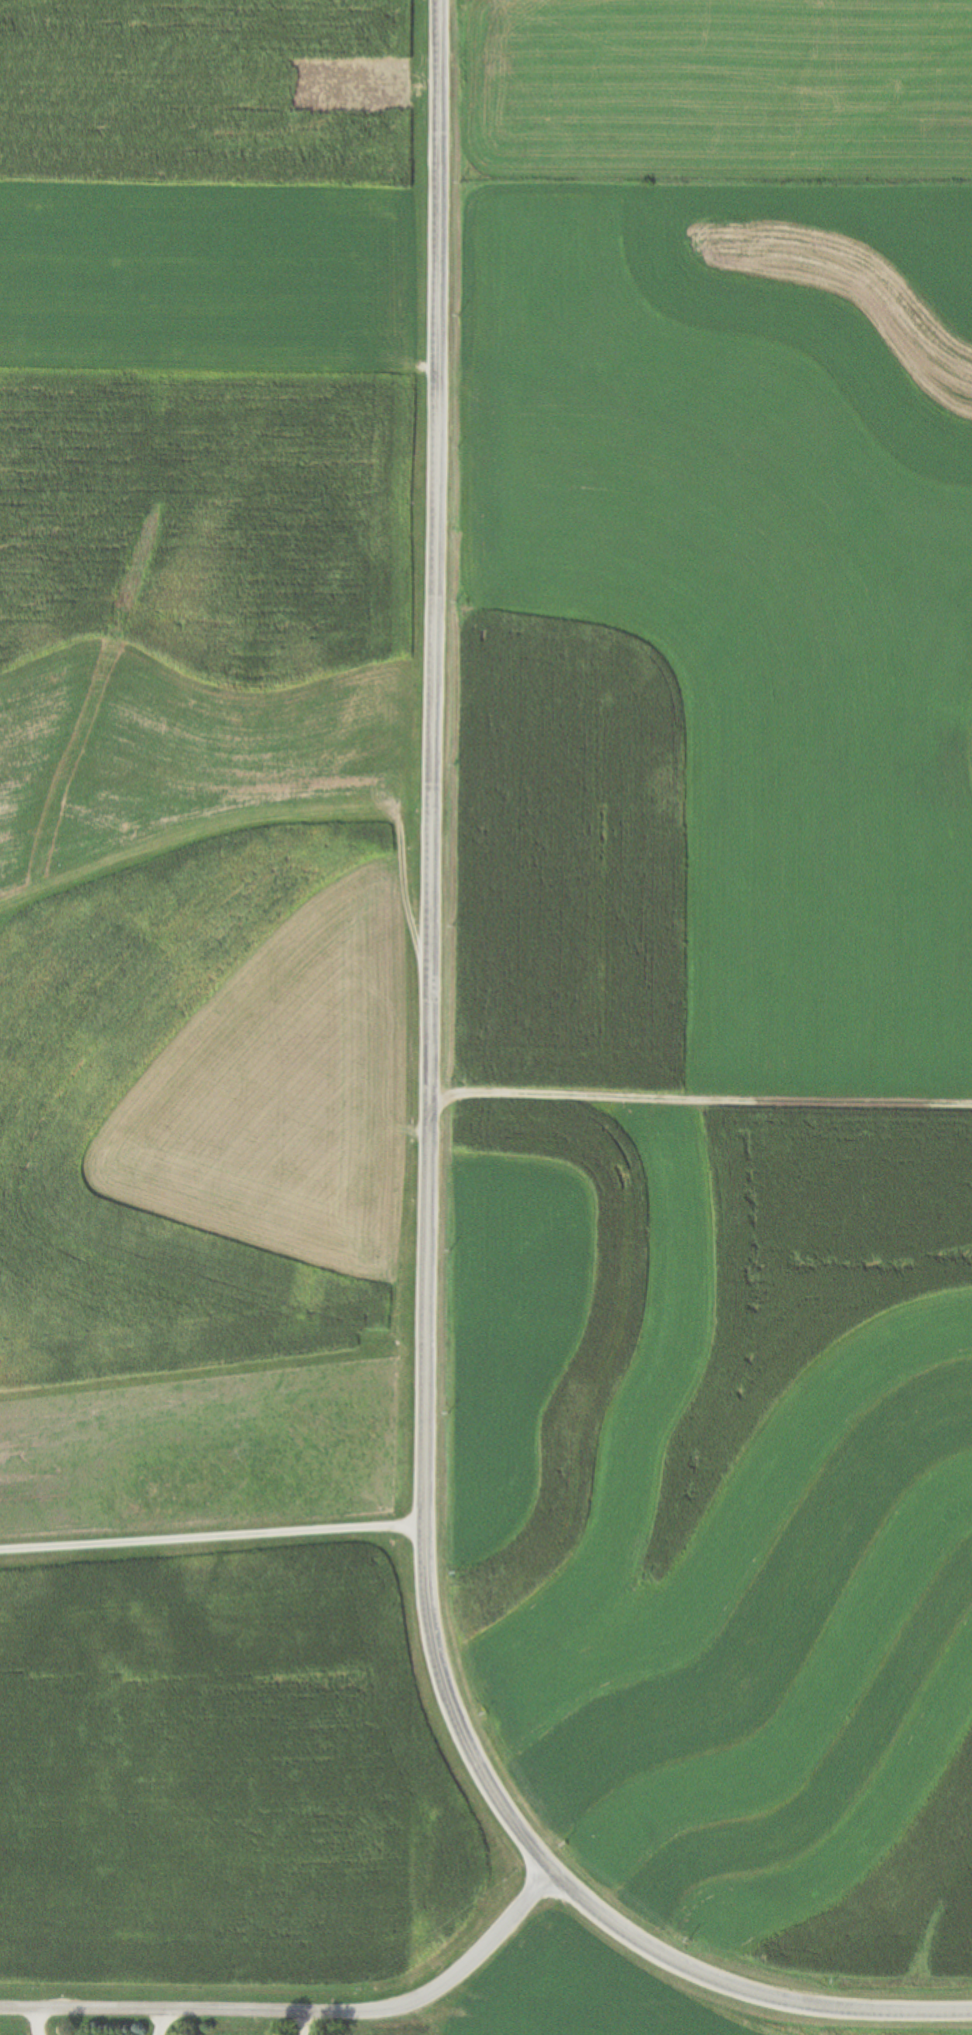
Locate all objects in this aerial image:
road: (432, 946)
road: (210, 1531)
road: (740, 1986)
road: (300, 2016)
road: (34, 2023)
road: (154, 2024)
road: (298, 2025)

